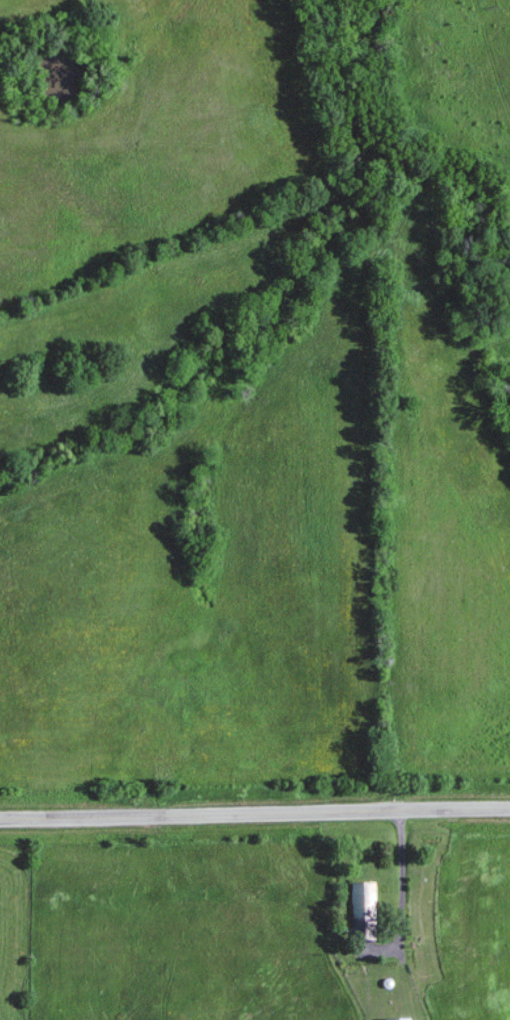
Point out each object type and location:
road: (255, 815)
building: (363, 911)

